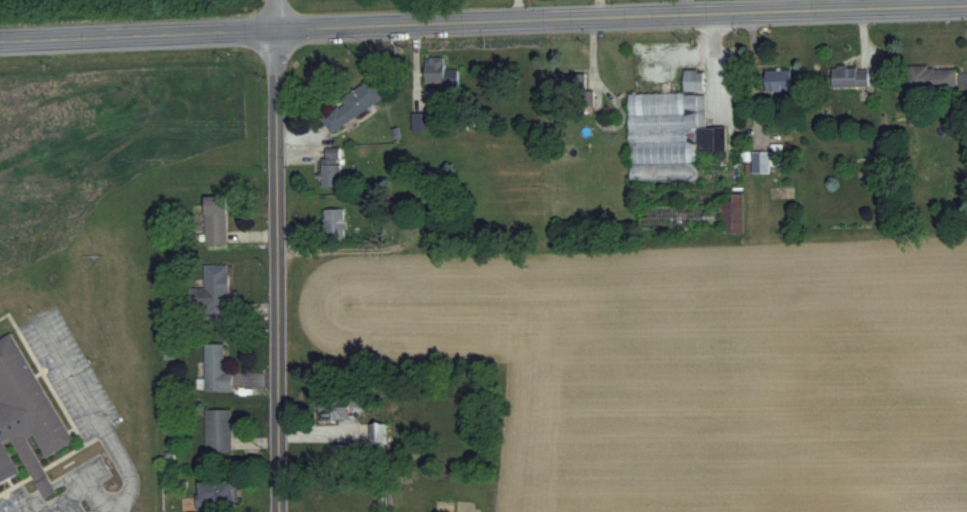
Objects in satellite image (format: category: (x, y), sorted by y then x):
road: (271, 15)
road: (483, 26)
building: (438, 73)
road: (716, 74)
building: (850, 76)
building: (931, 78)
building: (777, 80)
building: (569, 82)
building: (350, 106)
building: (420, 121)
building: (670, 132)
building: (330, 167)
building: (696, 215)
building: (214, 220)
building: (333, 224)
road: (273, 271)
building: (211, 291)
building: (215, 368)
building: (334, 411)
building: (26, 418)
building: (217, 430)
building: (377, 436)
road: (382, 488)
building: (216, 492)
road: (99, 502)
building: (191, 511)

